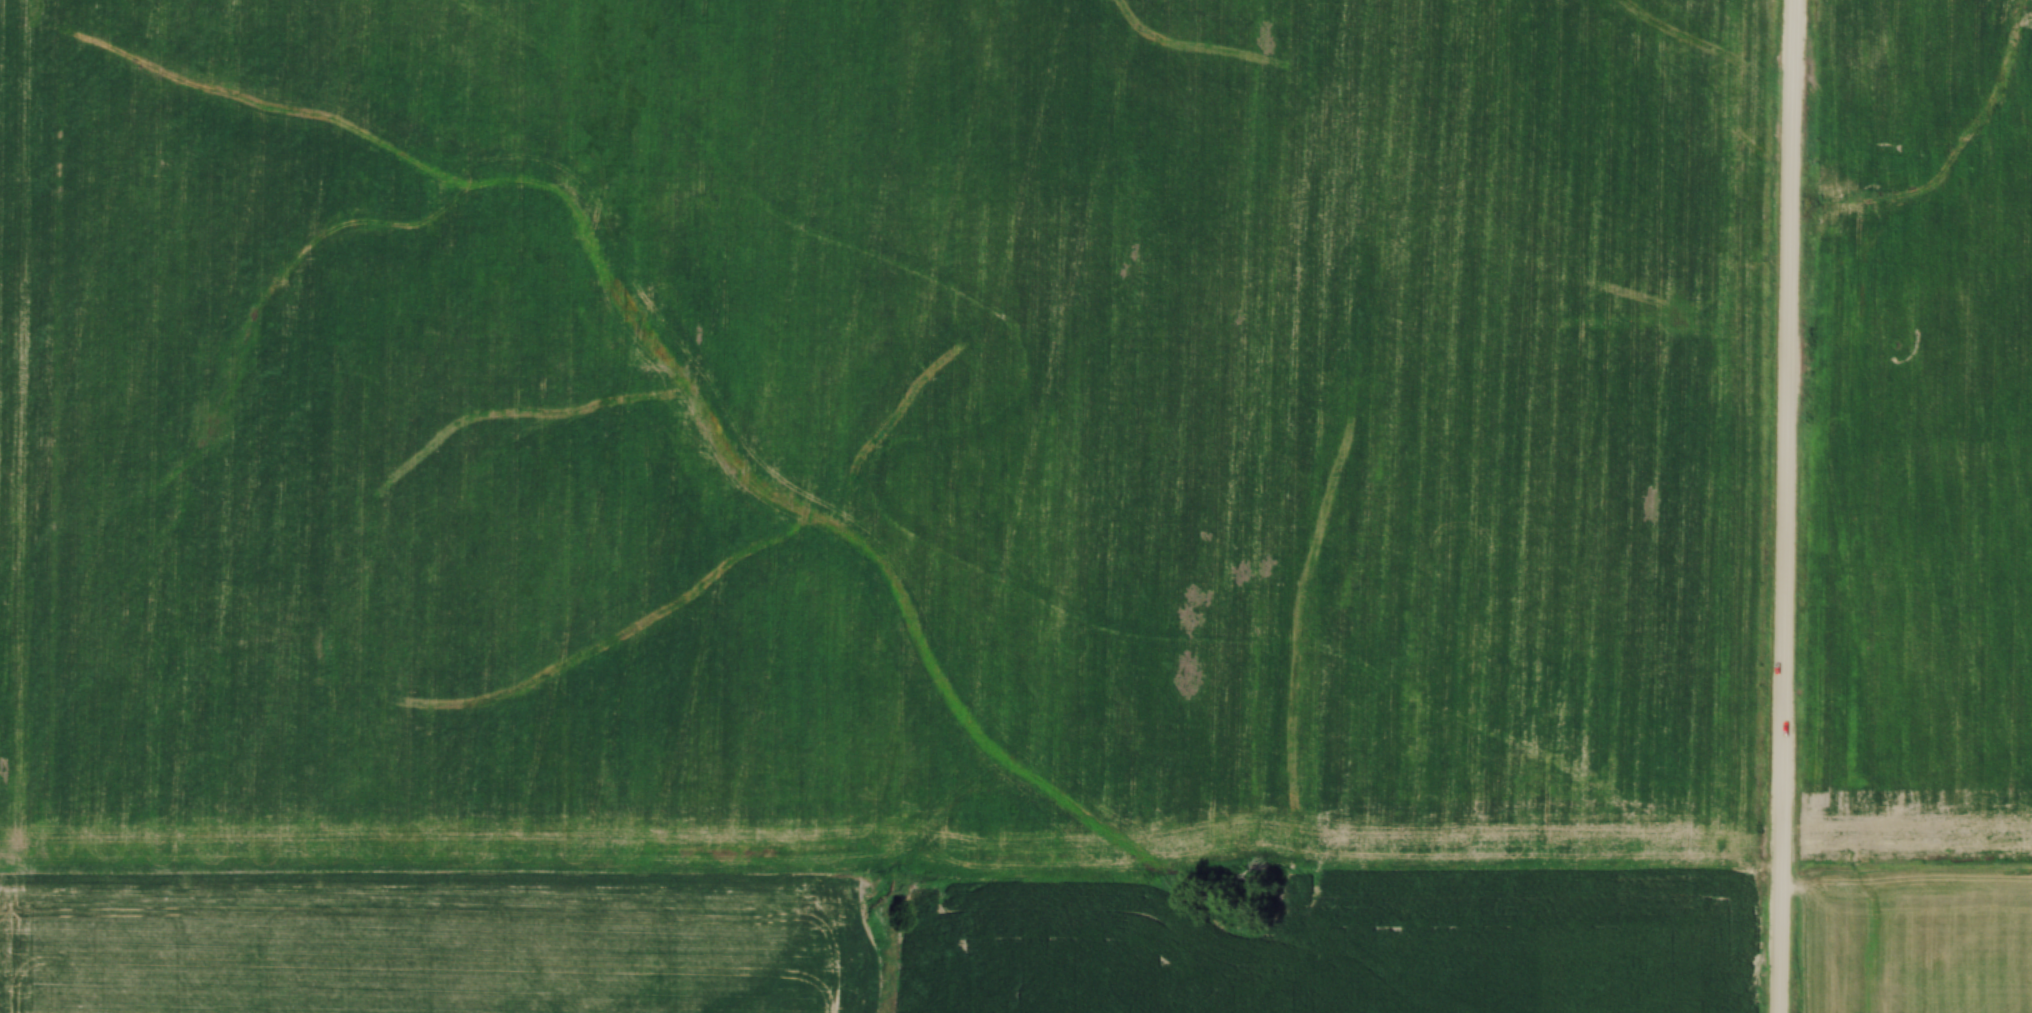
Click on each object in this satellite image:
road: (1784, 506)

